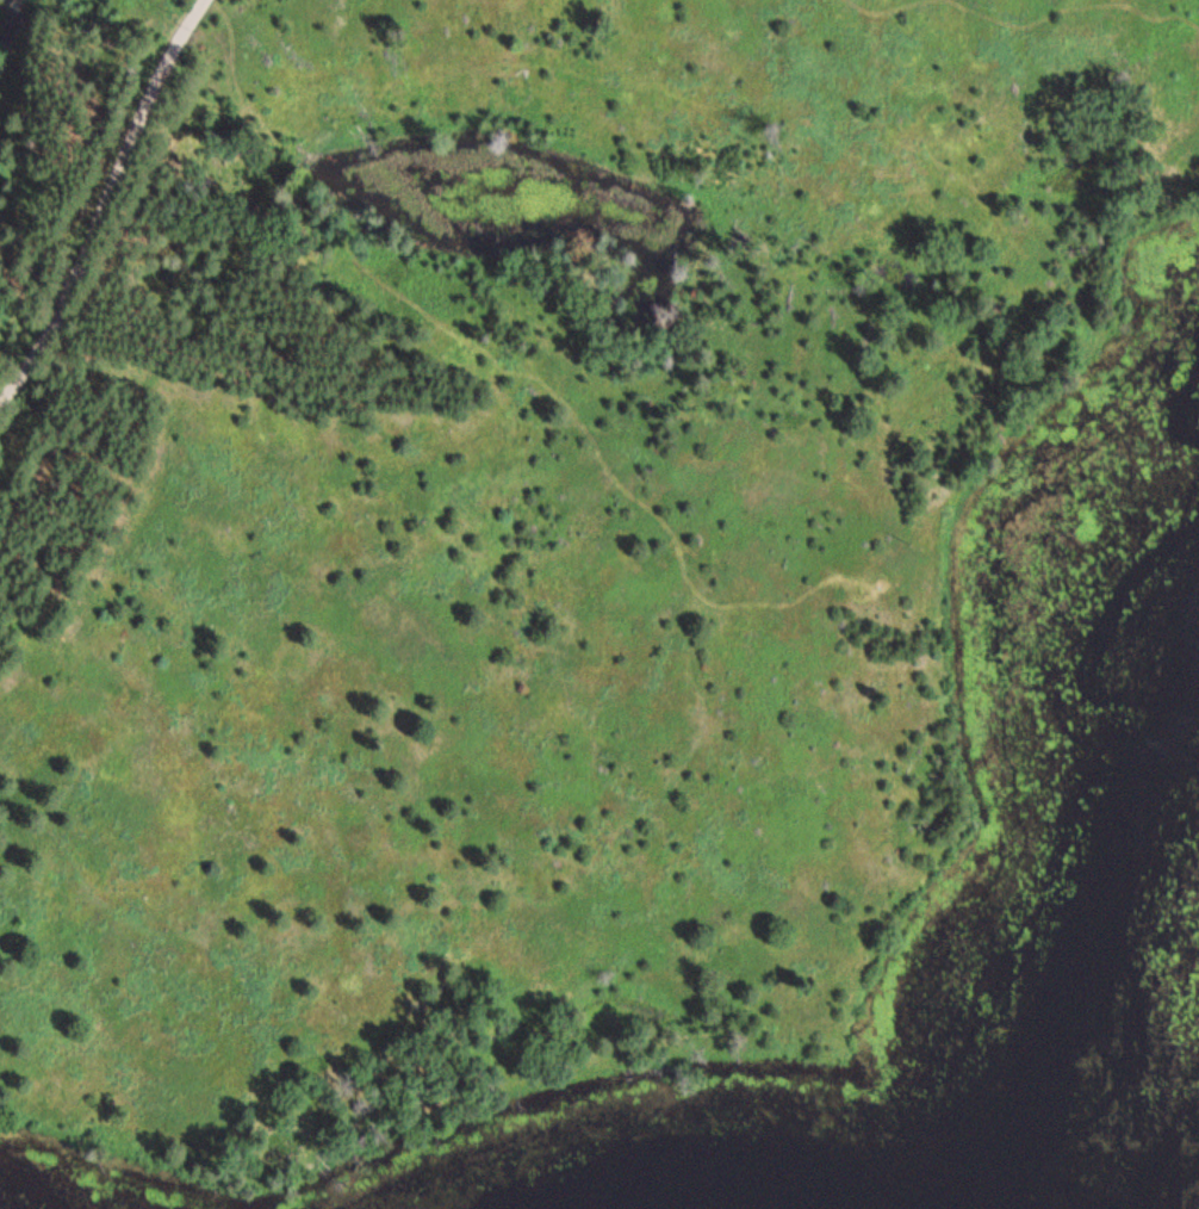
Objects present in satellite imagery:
road: (106, 196)

